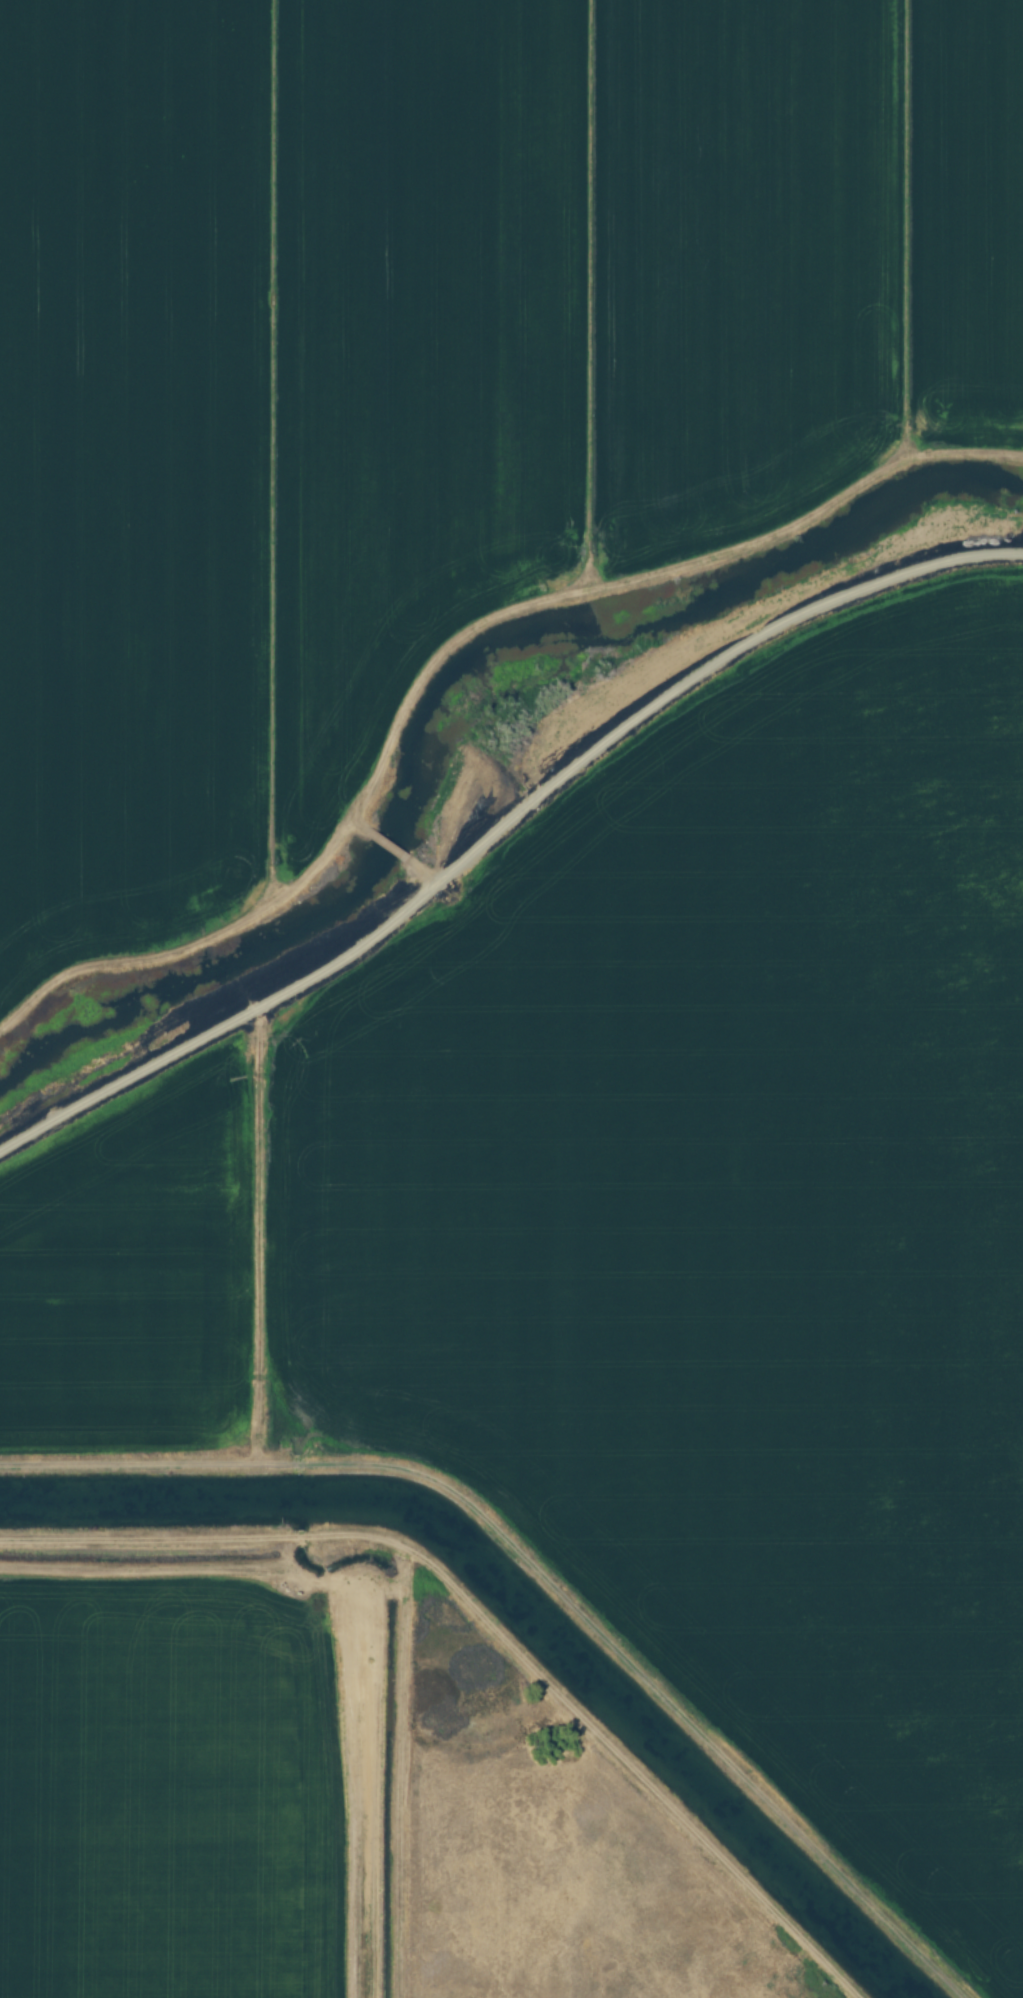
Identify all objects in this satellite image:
river: (519, 1601)

